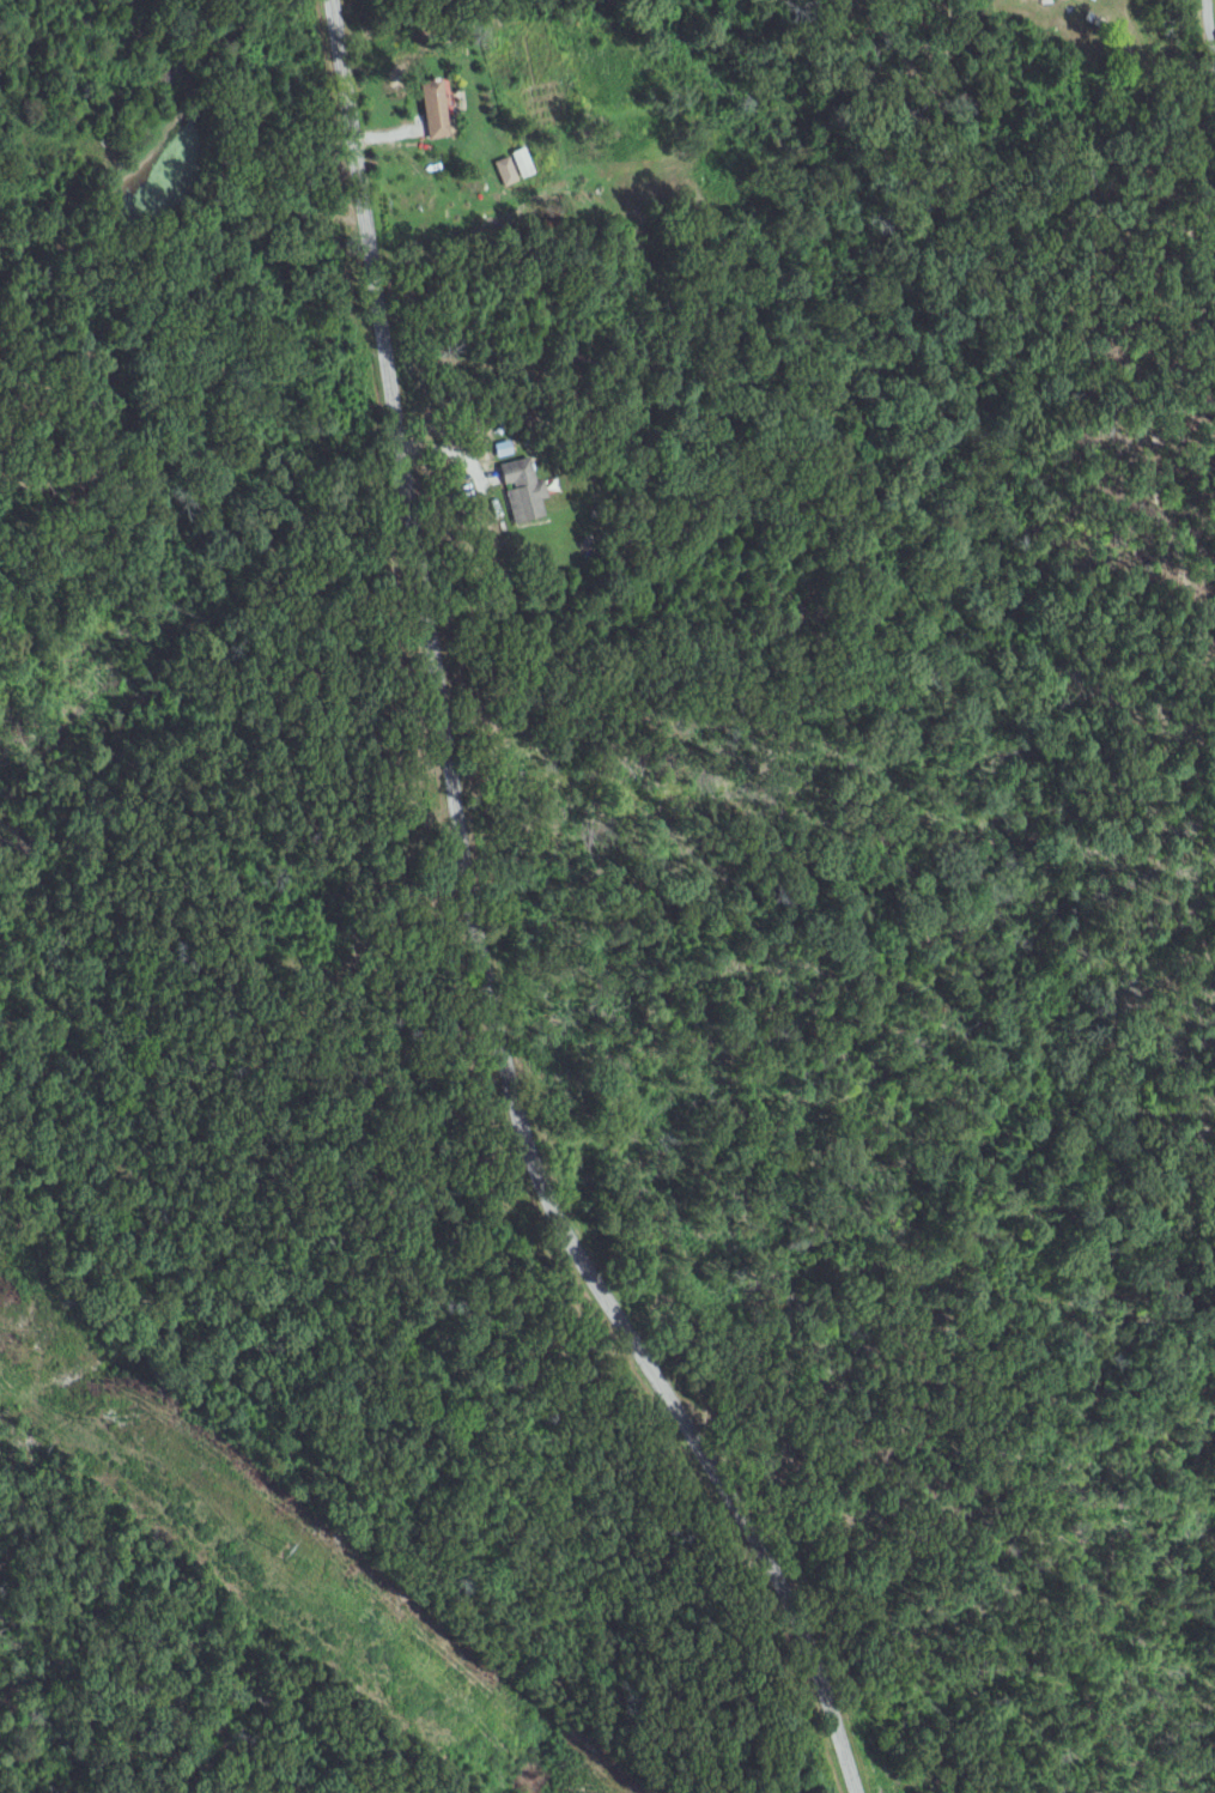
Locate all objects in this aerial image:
building: (435, 108)
building: (508, 170)
building: (524, 489)
road: (470, 934)
power tower: (286, 1555)

